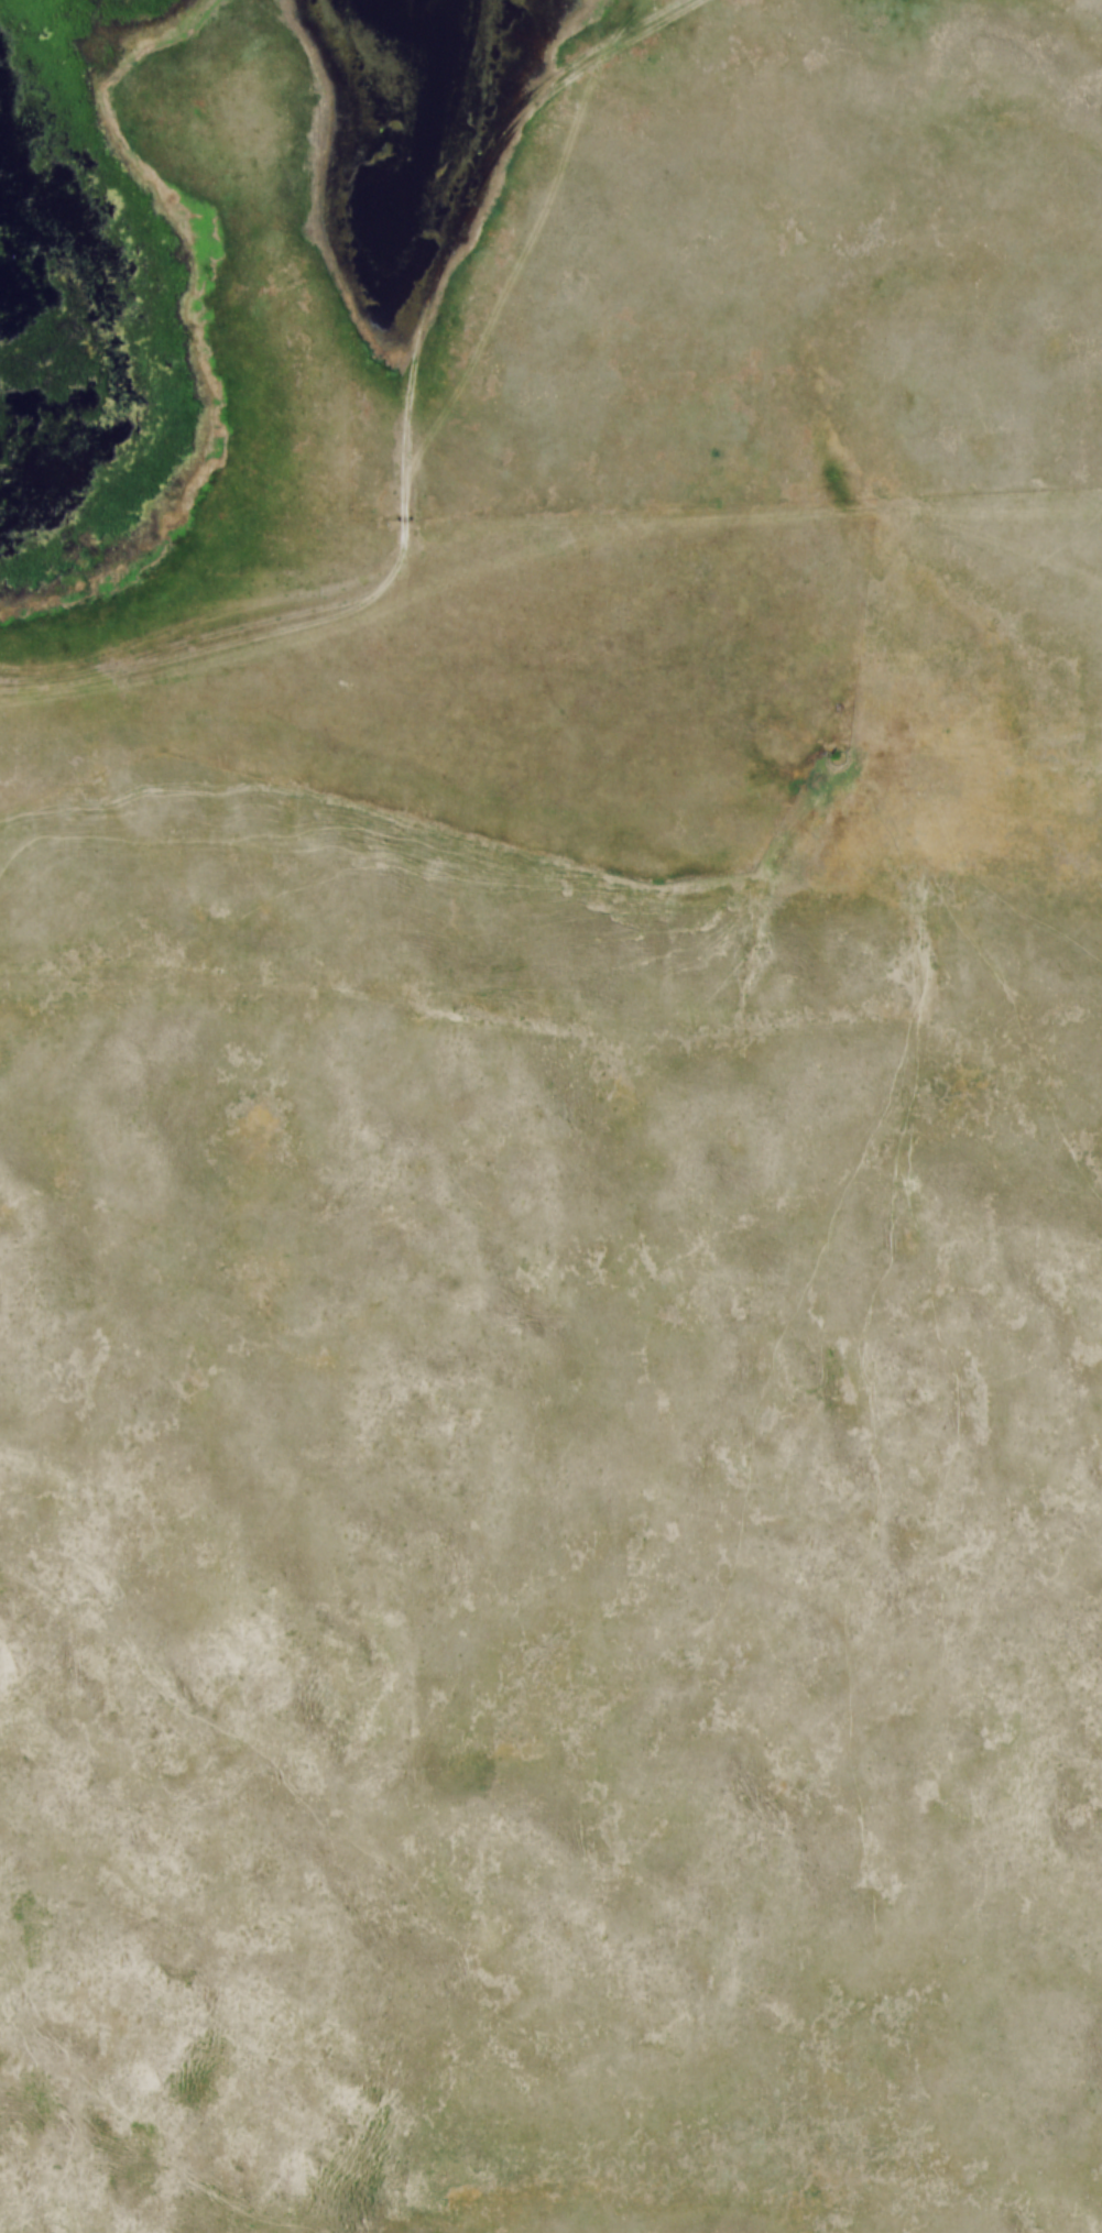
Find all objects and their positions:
road: (405, 439)

